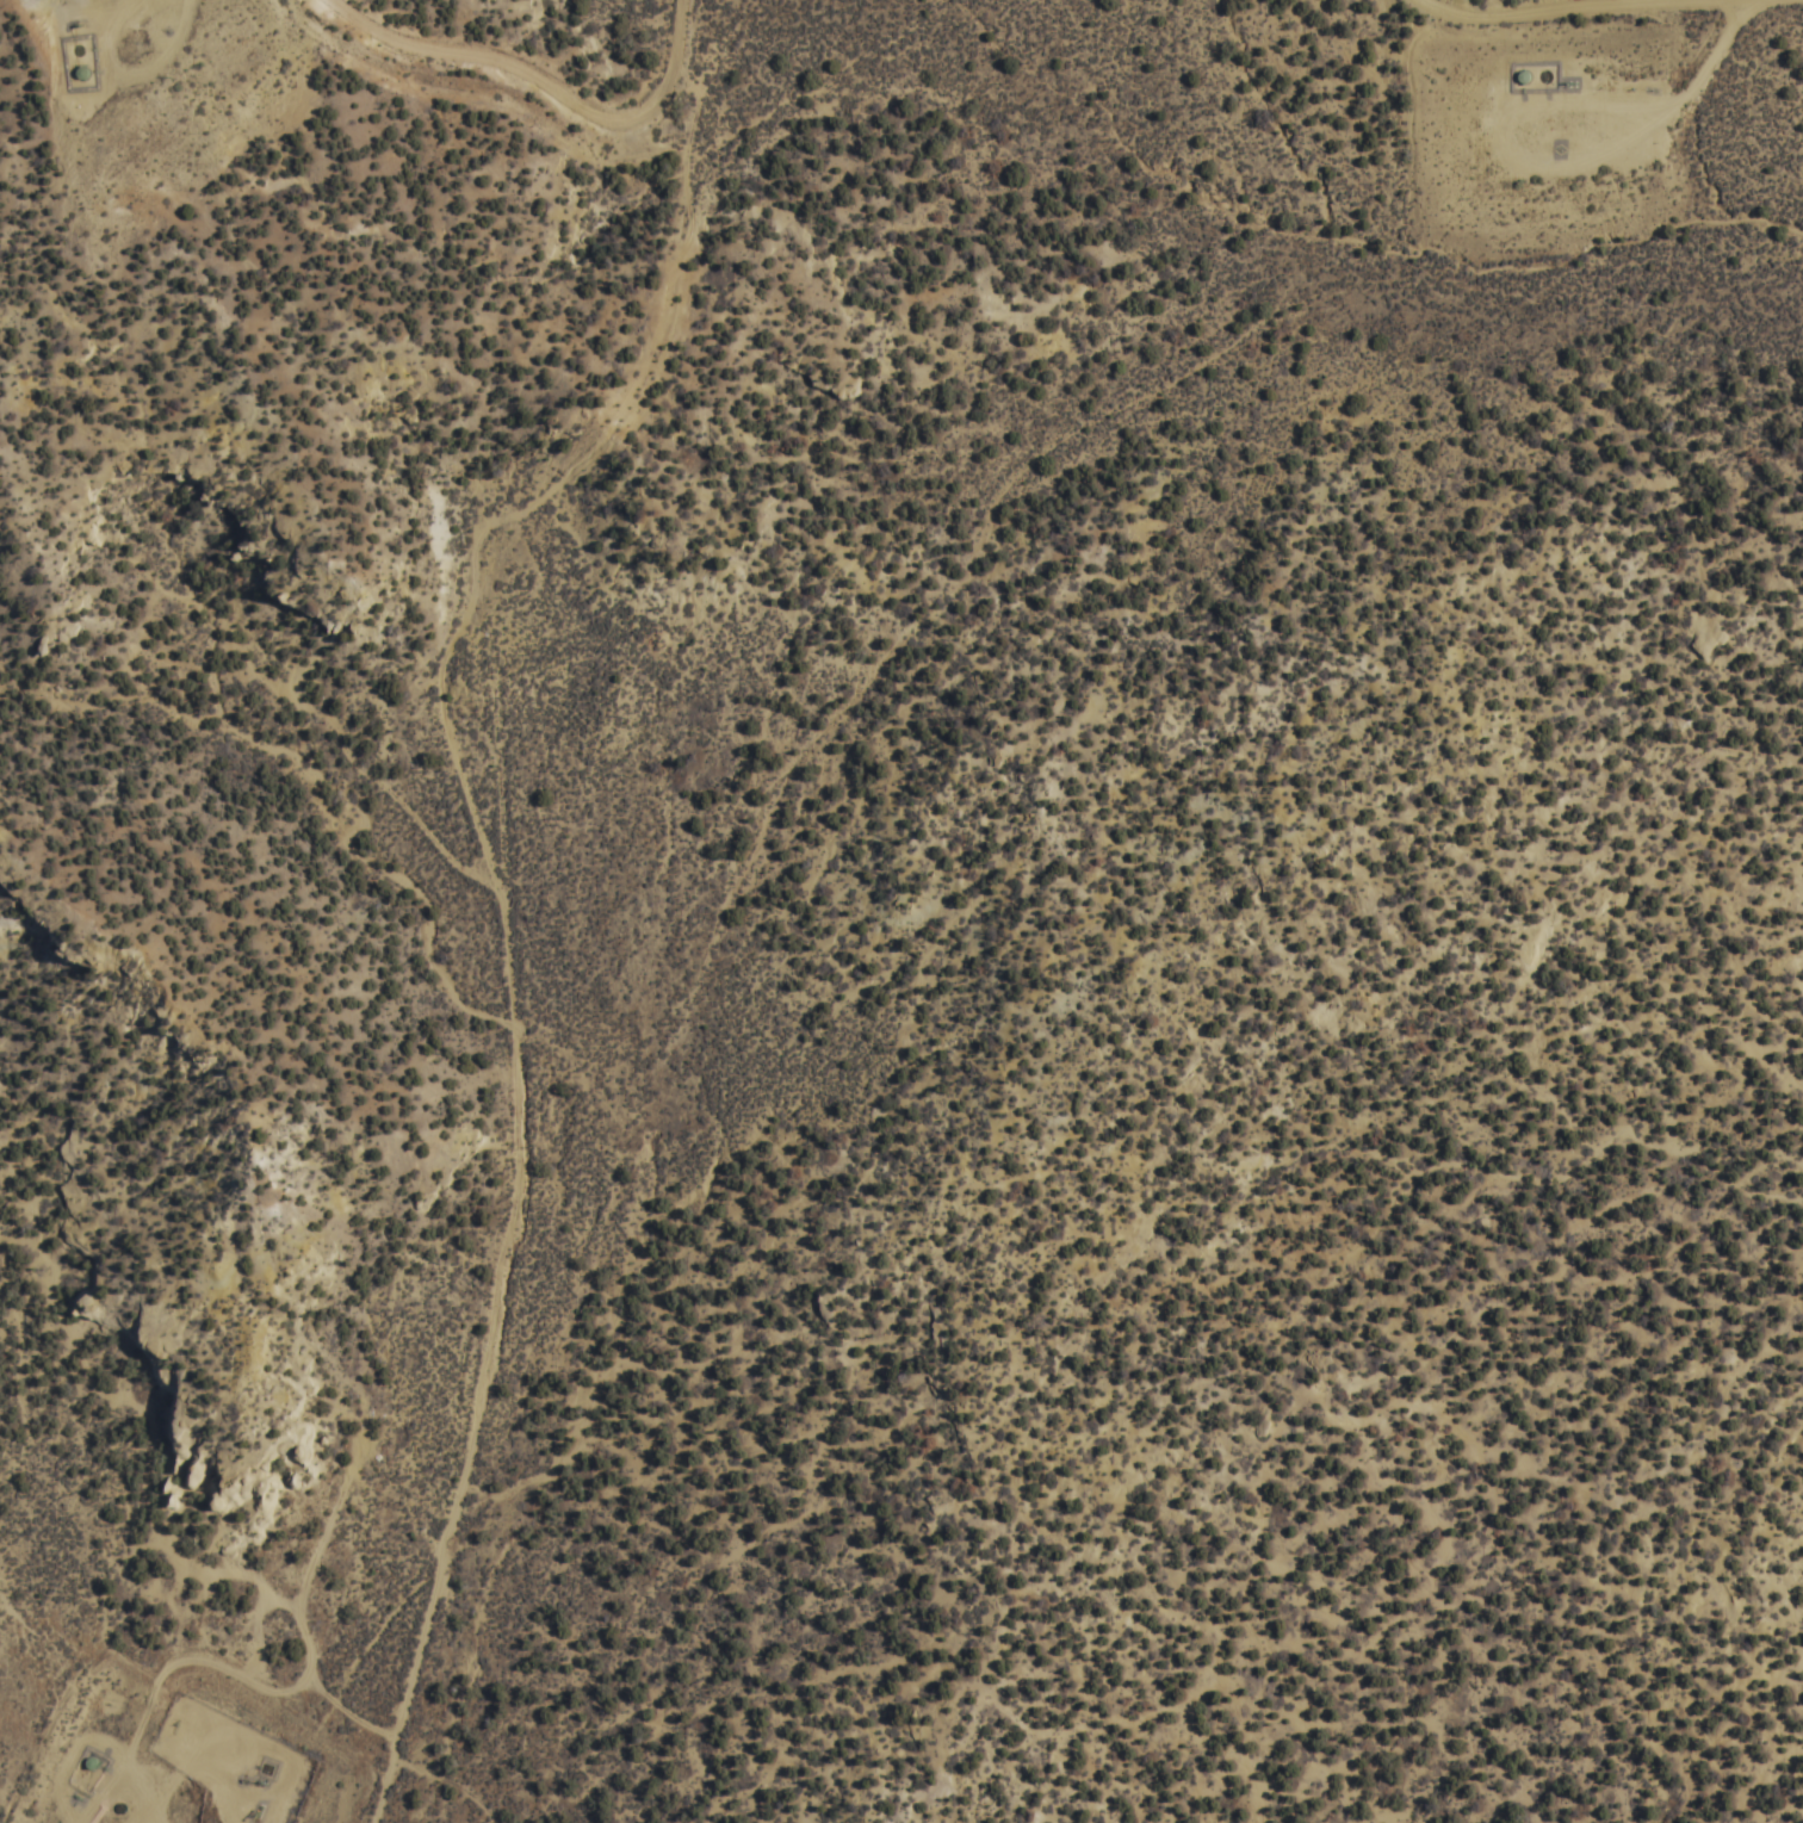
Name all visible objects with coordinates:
road: (1512, 7)
road: (1722, 49)
road: (144, 67)
road: (554, 80)
road: (1507, 141)
road: (507, 903)
road: (1482, 1384)
road: (156, 1427)
road: (308, 1624)
road: (352, 1707)
road: (179, 1778)
road: (143, 1796)
road: (100, 1799)

